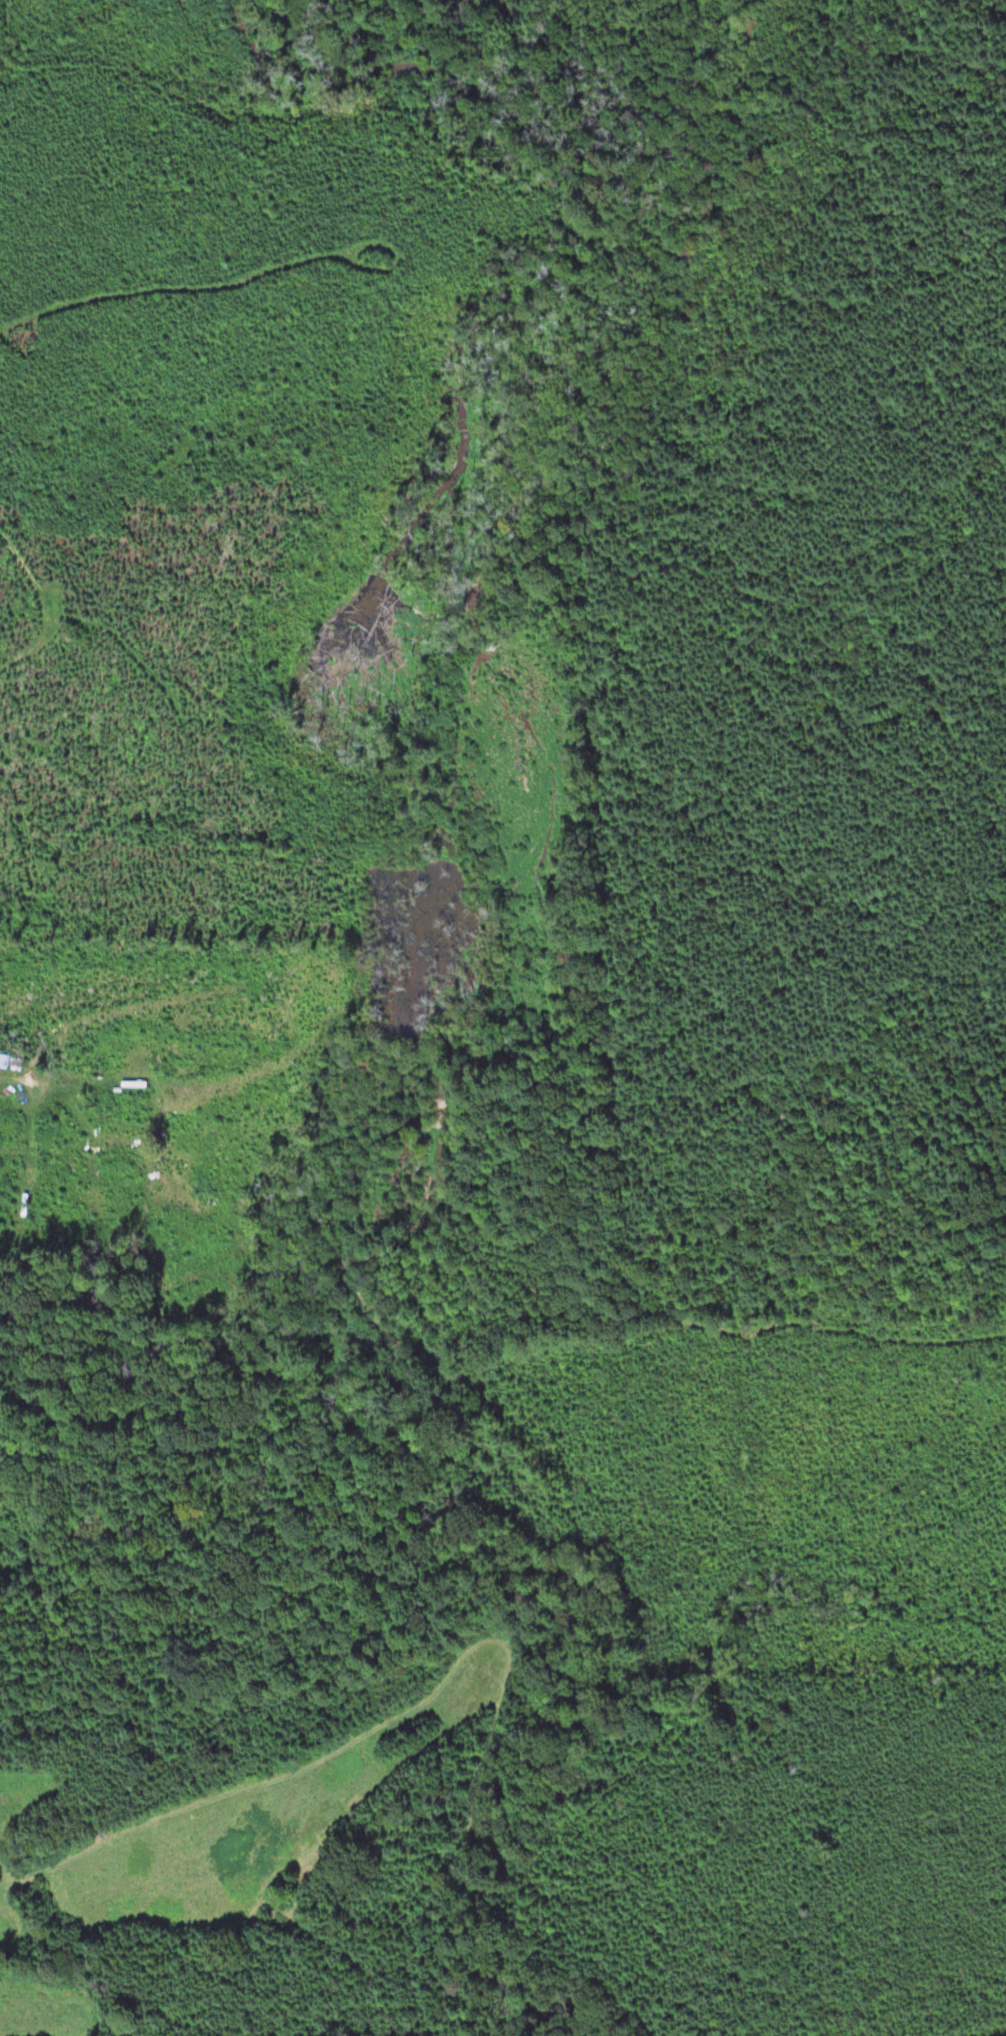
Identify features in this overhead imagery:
building: (9, 1064)
building: (132, 1086)

